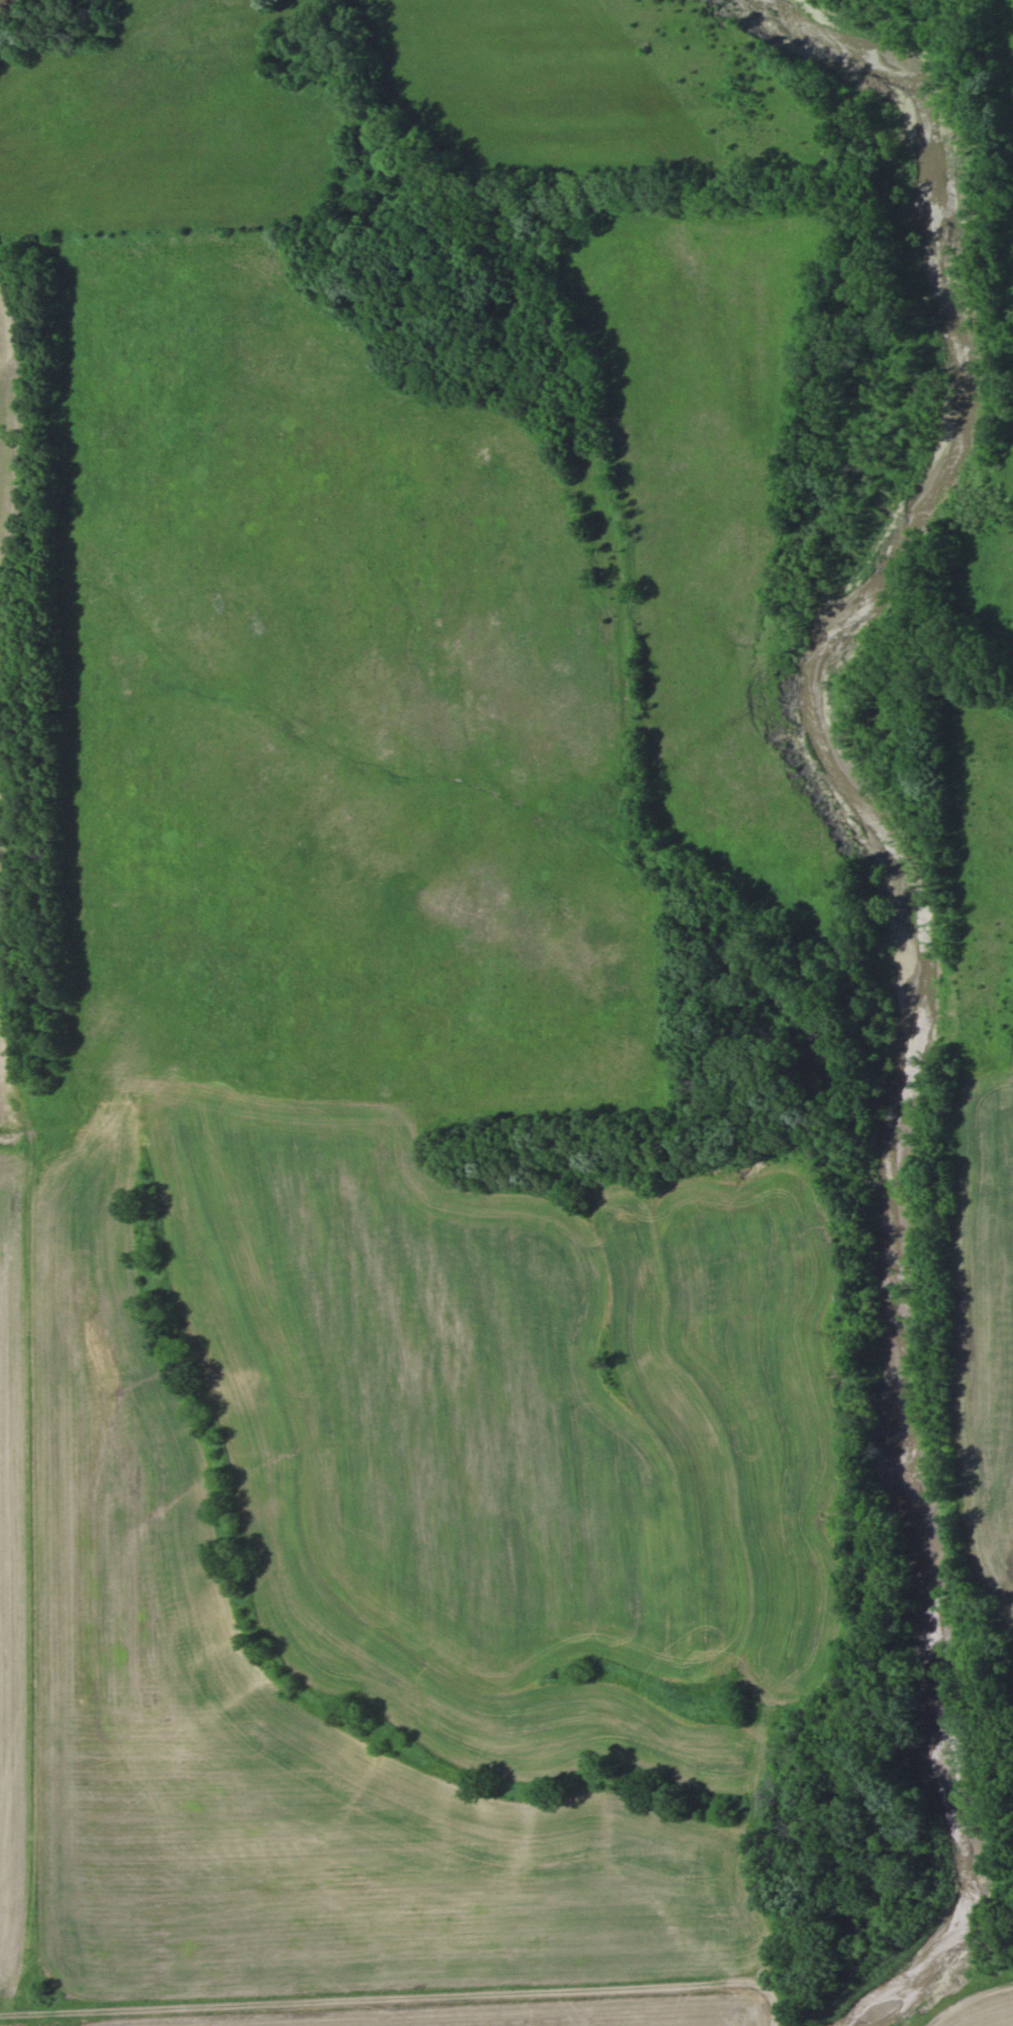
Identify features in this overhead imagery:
road: (974, 1979)
road: (374, 2001)
road: (920, 2004)

